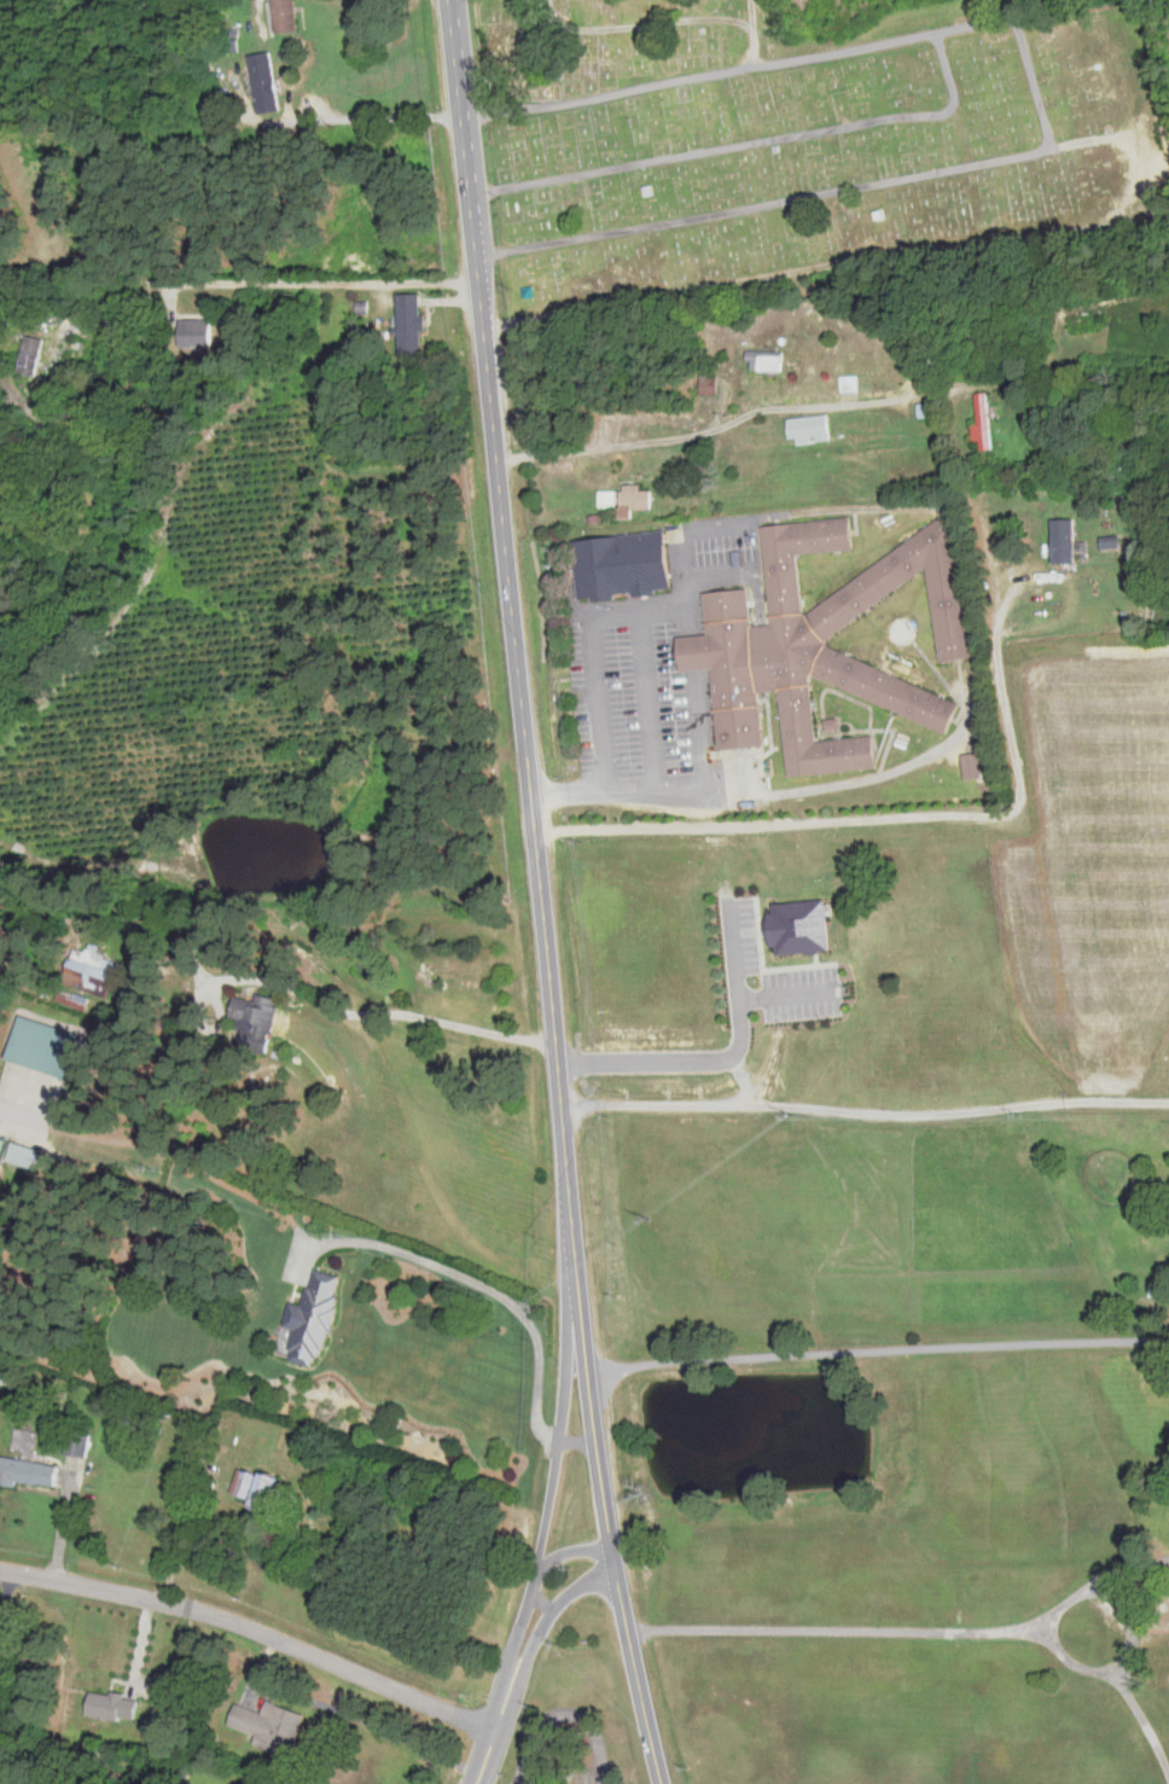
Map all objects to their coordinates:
building: (283, 16)
building: (262, 82)
road: (370, 116)
park: (805, 145)
road: (328, 281)
building: (408, 322)
building: (194, 333)
building: (29, 354)
building: (763, 361)
building: (848, 384)
building: (982, 423)
building: (807, 429)
road: (674, 438)
building: (635, 498)
road: (865, 506)
building: (1062, 541)
building: (621, 566)
road: (722, 575)
road: (616, 615)
building: (754, 652)
building: (970, 765)
road: (752, 785)
road: (531, 788)
road: (973, 808)
building: (831, 949)
building: (100, 965)
building: (913, 969)
road: (337, 975)
road: (787, 995)
road: (315, 999)
building: (255, 1019)
building: (42, 1046)
road: (723, 1058)
road: (4, 1104)
building: (1, 1146)
road: (489, 1288)
building: (309, 1320)
road: (877, 1350)
road: (559, 1439)
road: (577, 1440)
building: (76, 1443)
building: (28, 1472)
road: (179, 1482)
building: (254, 1487)
road: (564, 1553)
road: (6, 1596)
road: (541, 1623)
road: (255, 1626)
road: (855, 1627)
road: (638, 1679)
road: (1130, 1702)
road: (564, 1713)
building: (268, 1724)
road: (489, 1747)

